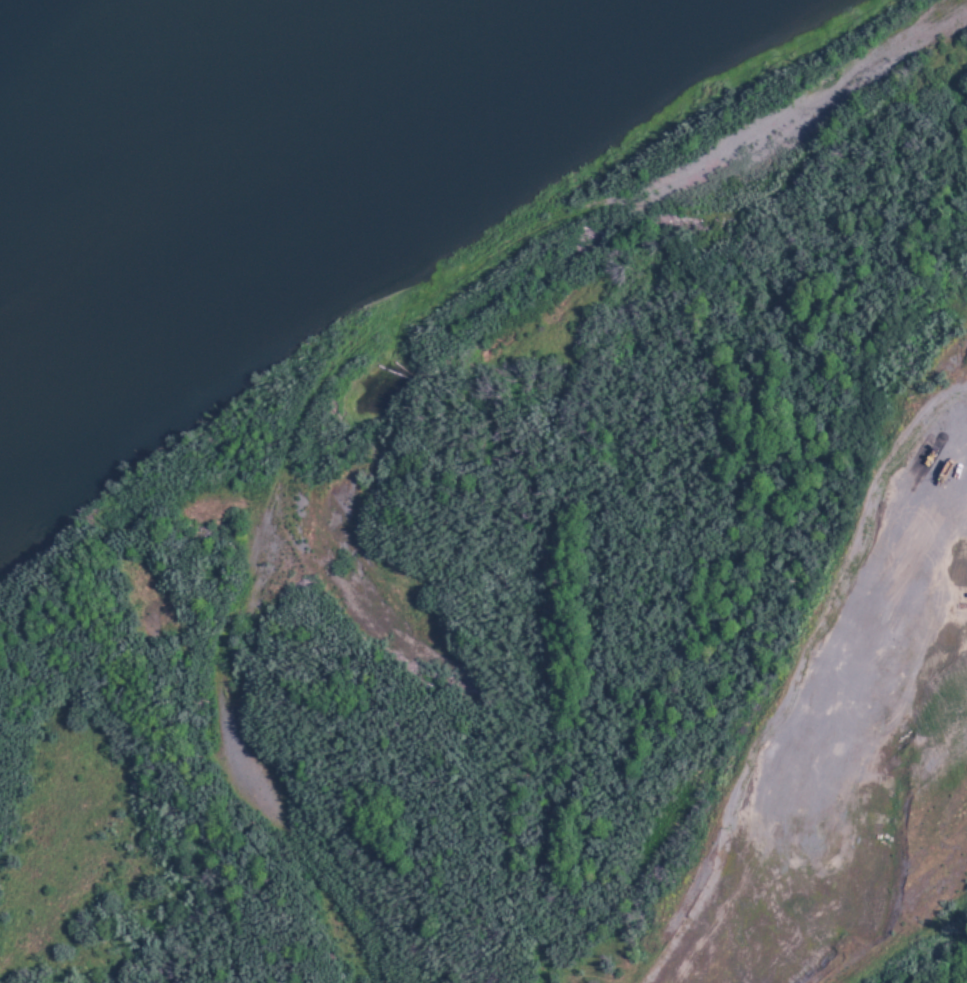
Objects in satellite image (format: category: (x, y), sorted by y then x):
river: (198, 168)

